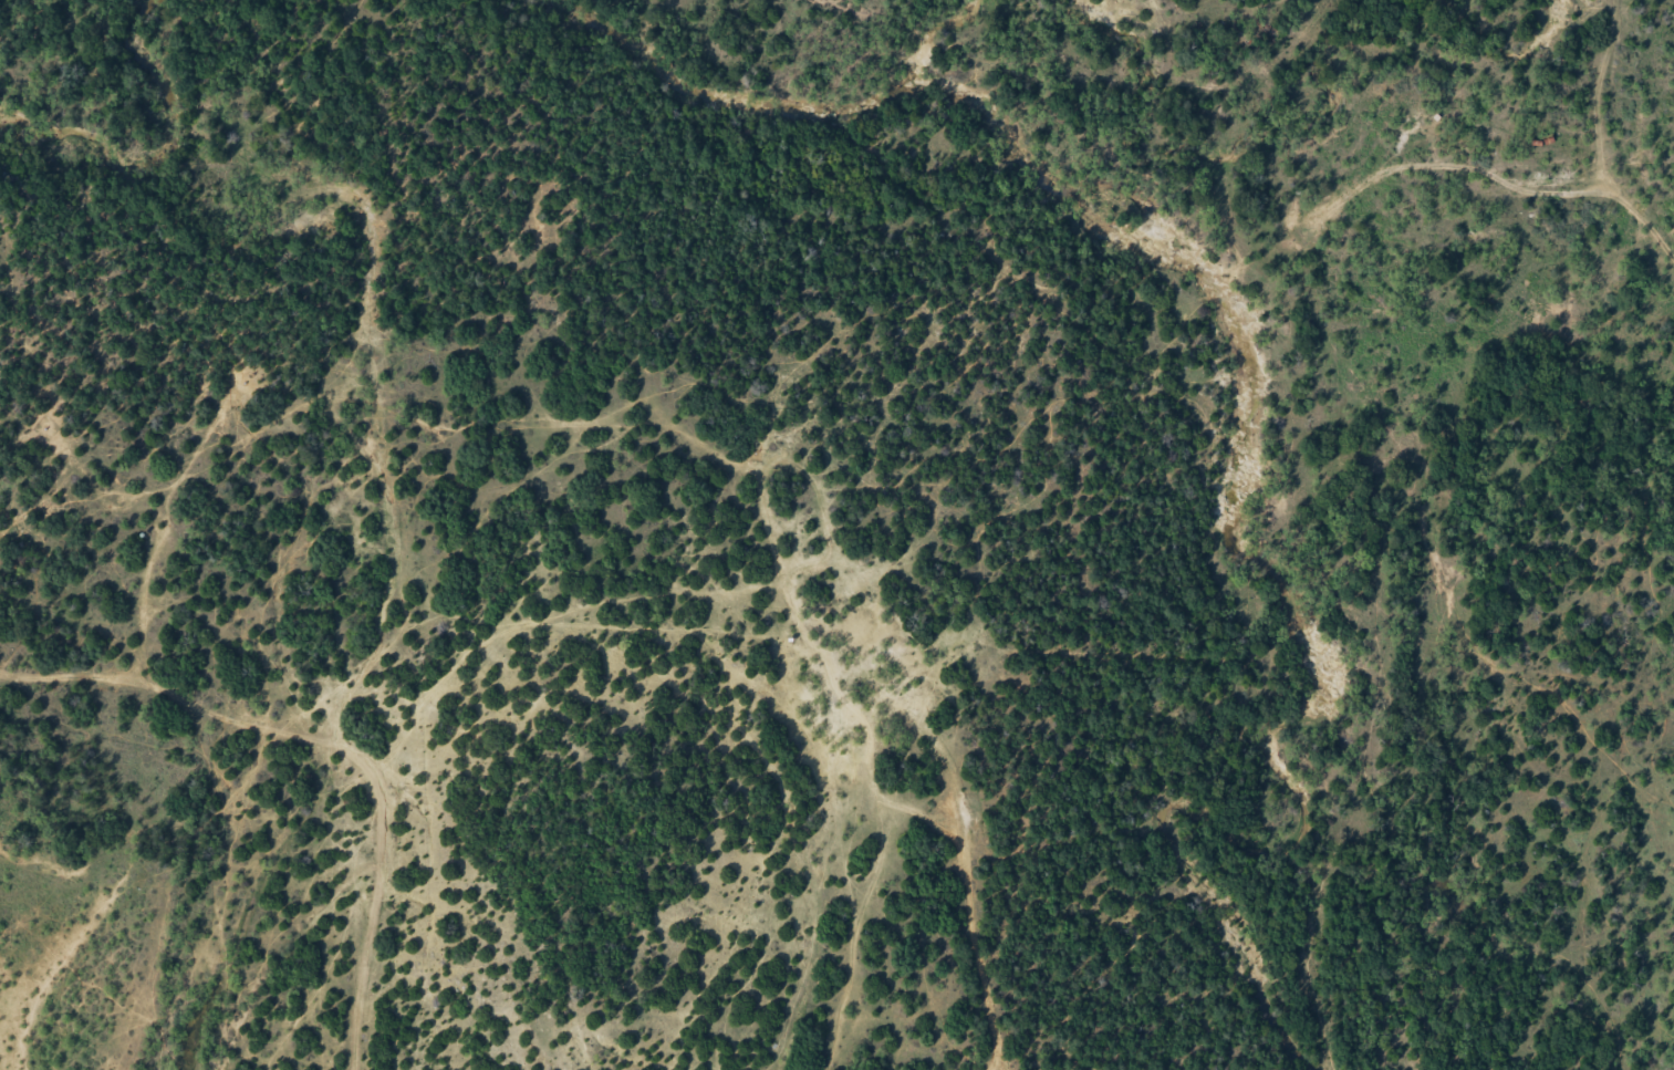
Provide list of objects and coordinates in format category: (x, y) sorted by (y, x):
road: (321, 773)

